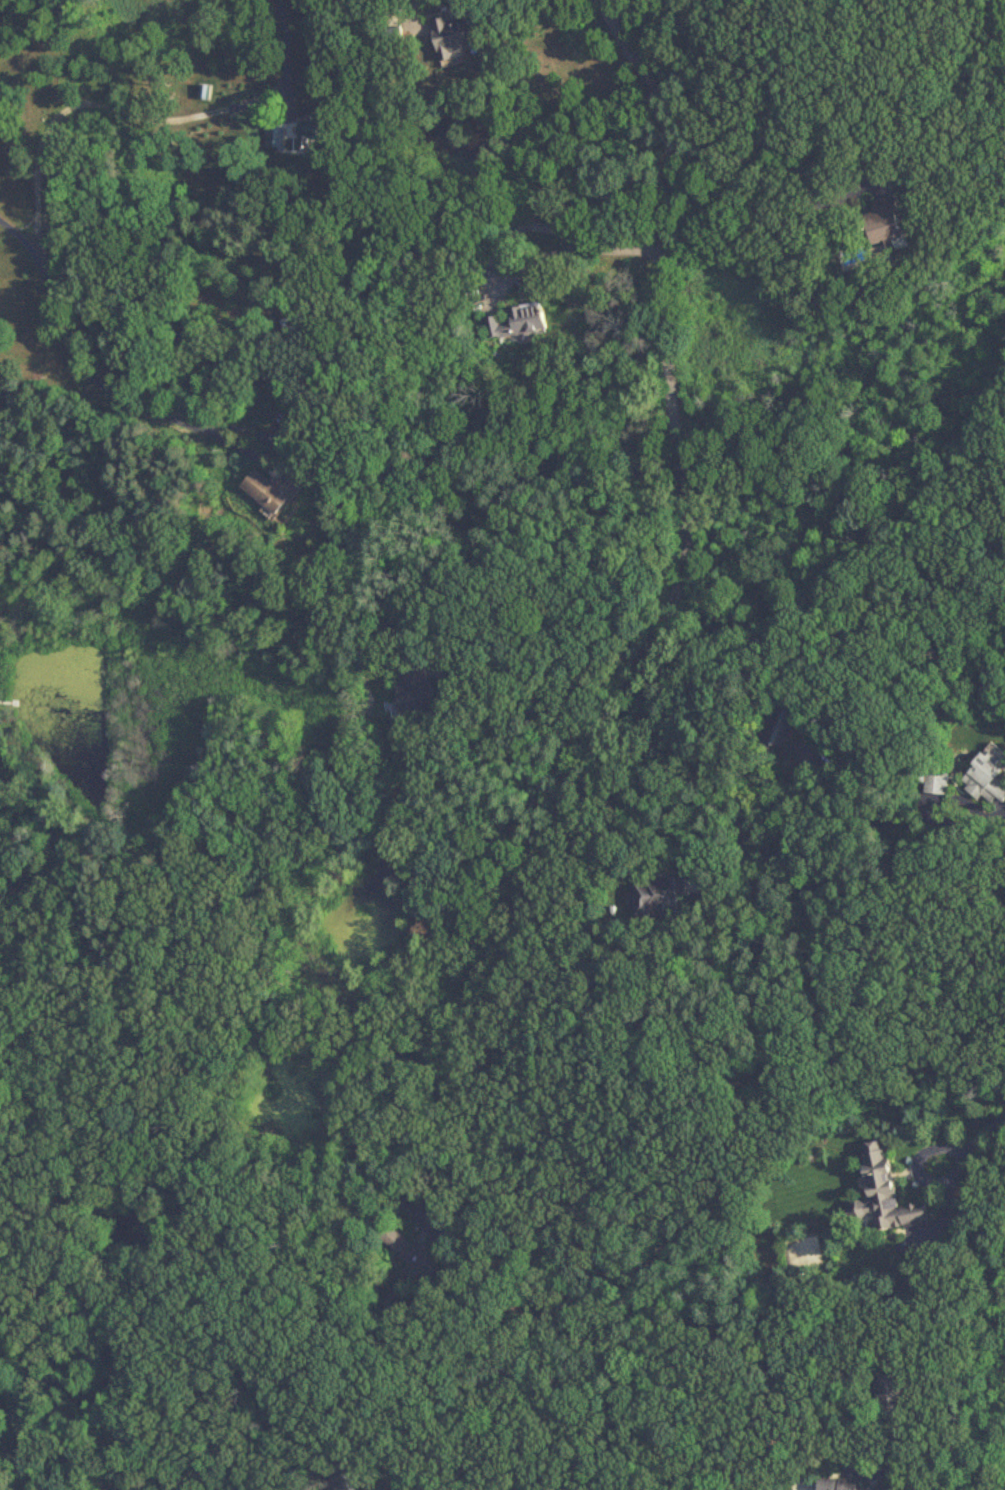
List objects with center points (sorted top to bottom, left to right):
building: (453, 36)
road: (287, 47)
road: (88, 100)
road: (767, 189)
building: (884, 222)
road: (558, 233)
building: (515, 323)
building: (295, 325)
road: (96, 381)
building: (270, 489)
building: (414, 692)
road: (521, 702)
road: (610, 713)
building: (782, 729)
building: (987, 780)
building: (937, 783)
road: (783, 786)
road: (760, 855)
building: (659, 897)
road: (754, 909)
road: (984, 1135)
road: (444, 1169)
road: (920, 1171)
building: (884, 1194)
building: (394, 1239)
building: (414, 1258)
road: (818, 1305)
road: (514, 1405)
road: (628, 1428)
road: (800, 1472)
building: (346, 1479)
building: (842, 1485)

